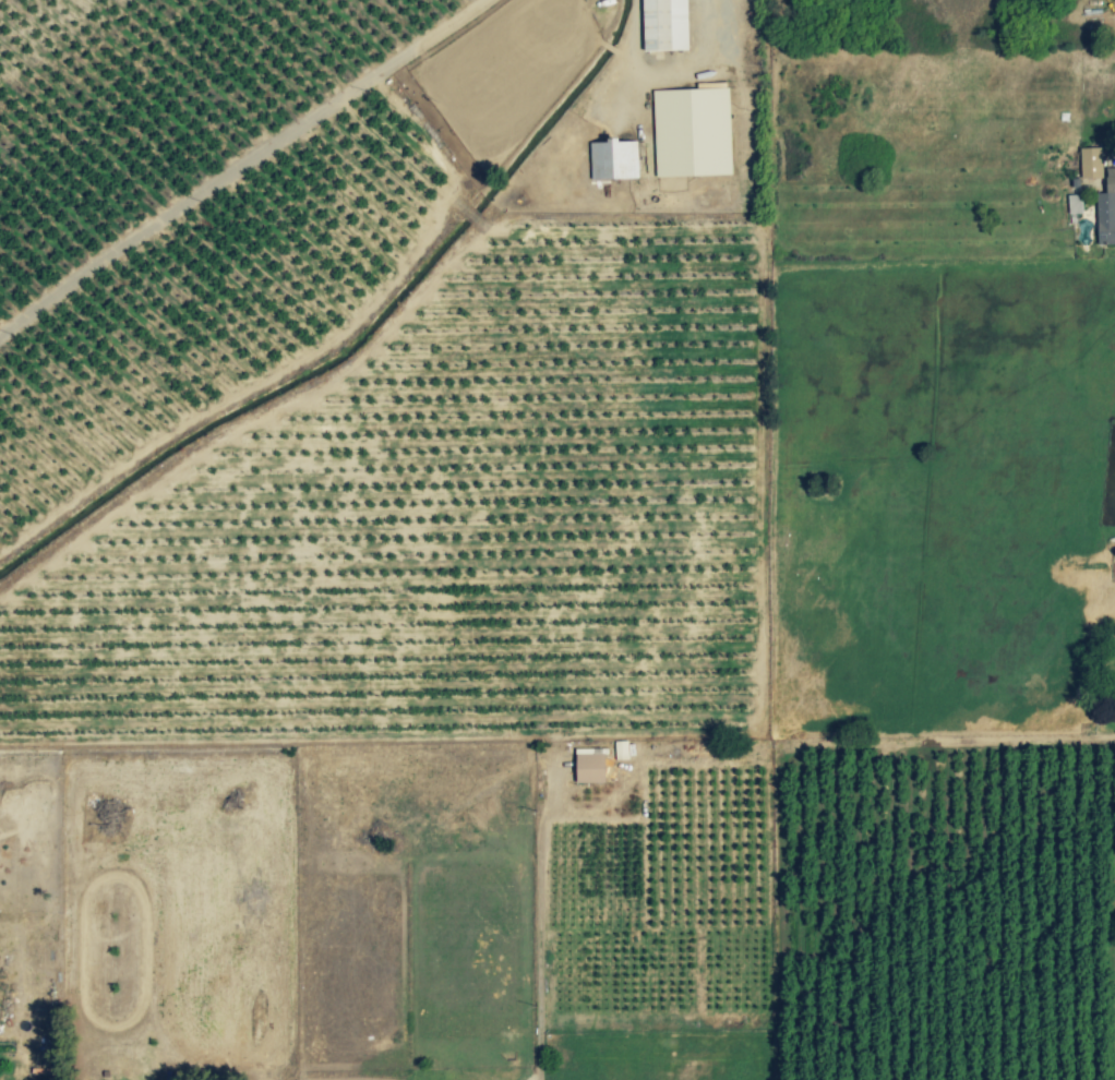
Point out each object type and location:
building: (663, 25)
road: (672, 69)
building: (691, 133)
building: (612, 161)
building: (1089, 165)
building: (1072, 205)
building: (1106, 212)
building: (699, 748)
building: (588, 767)

